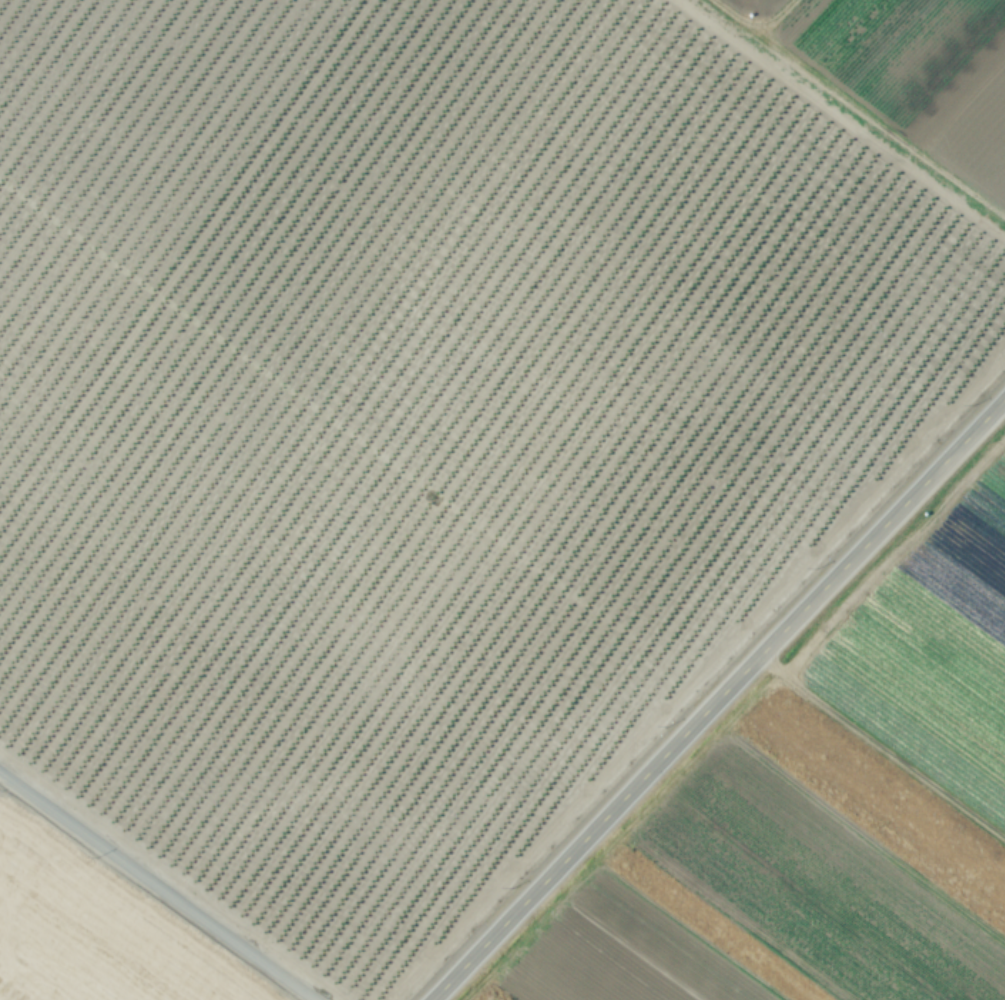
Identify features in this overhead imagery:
crop: (435, 436)
road: (718, 699)
crop: (825, 813)
road: (157, 886)

